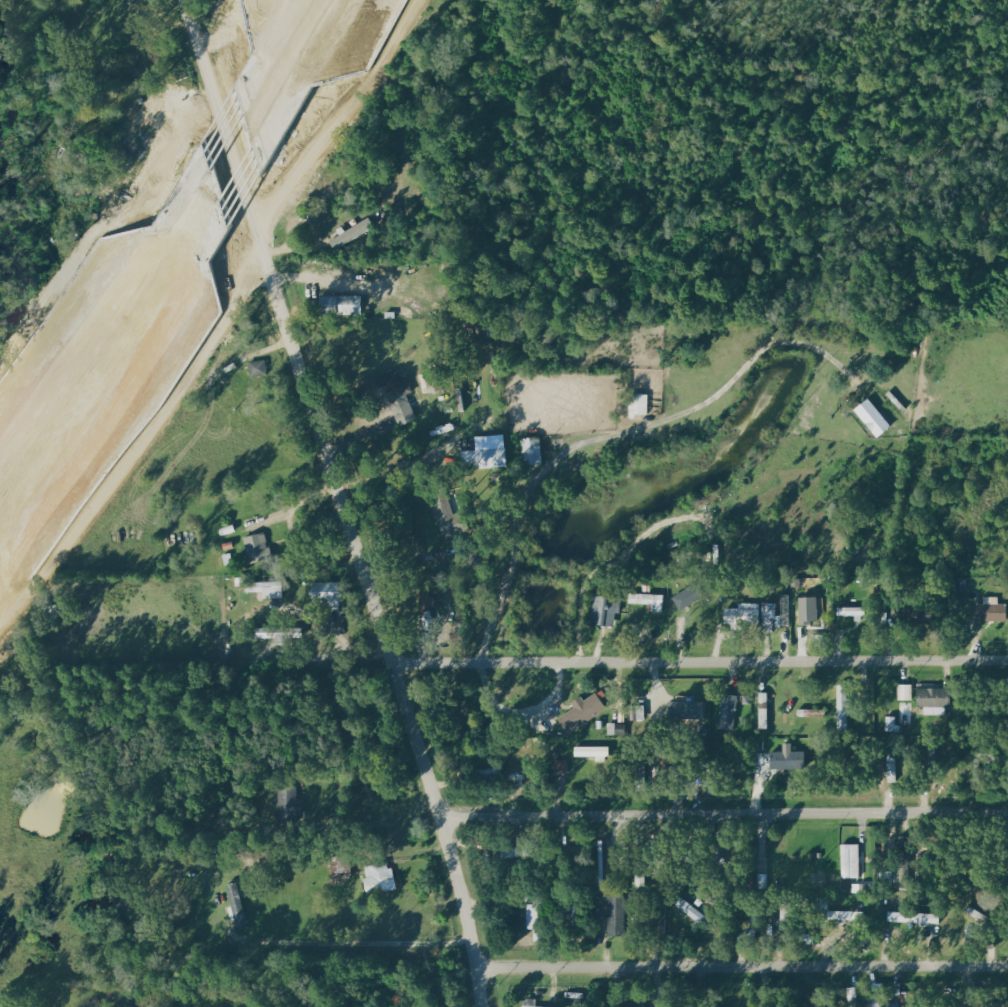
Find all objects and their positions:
road: (278, 48)
road: (312, 77)
road: (233, 127)
road: (252, 181)
building: (356, 232)
building: (346, 304)
road: (112, 321)
building: (193, 338)
road: (123, 382)
building: (431, 383)
building: (401, 390)
building: (871, 418)
road: (366, 433)
road: (606, 433)
building: (535, 451)
building: (489, 458)
road: (341, 501)
building: (452, 514)
building: (261, 548)
road: (415, 562)
building: (277, 590)
building: (648, 600)
building: (605, 609)
building: (990, 609)
building: (850, 612)
building: (743, 613)
building: (777, 613)
building: (813, 618)
building: (272, 635)
road: (700, 663)
building: (904, 691)
building: (931, 700)
building: (580, 711)
building: (727, 711)
building: (811, 712)
road: (519, 714)
building: (592, 753)
building: (782, 759)
building: (556, 766)
building: (892, 768)
building: (287, 802)
road: (725, 817)
building: (849, 861)
building: (340, 866)
building: (378, 877)
building: (818, 877)
building: (235, 905)
building: (688, 908)
building: (616, 914)
building: (838, 916)
building: (914, 917)
road: (361, 943)
road: (743, 966)
building: (529, 1002)

